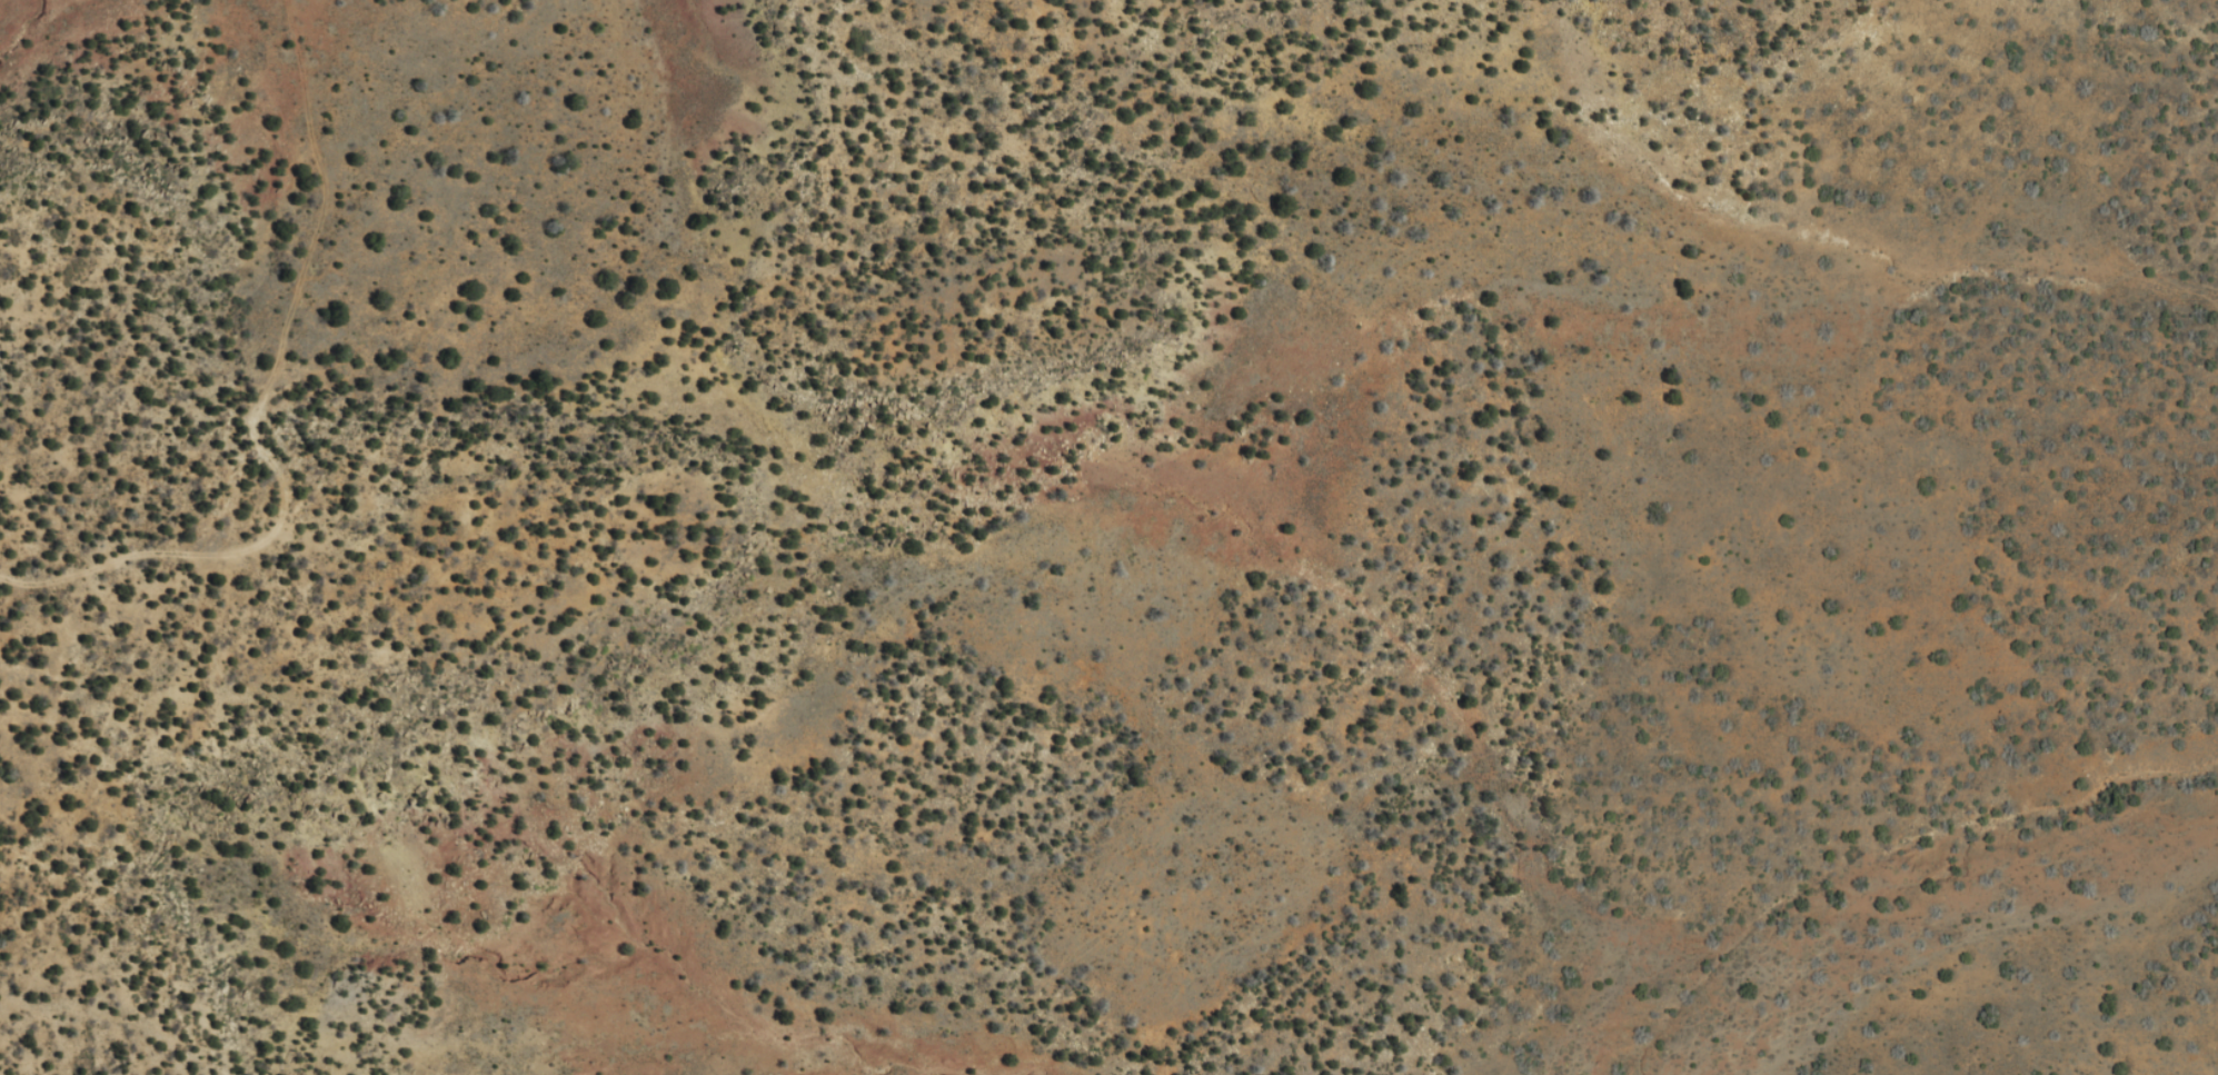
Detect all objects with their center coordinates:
road: (271, 400)

